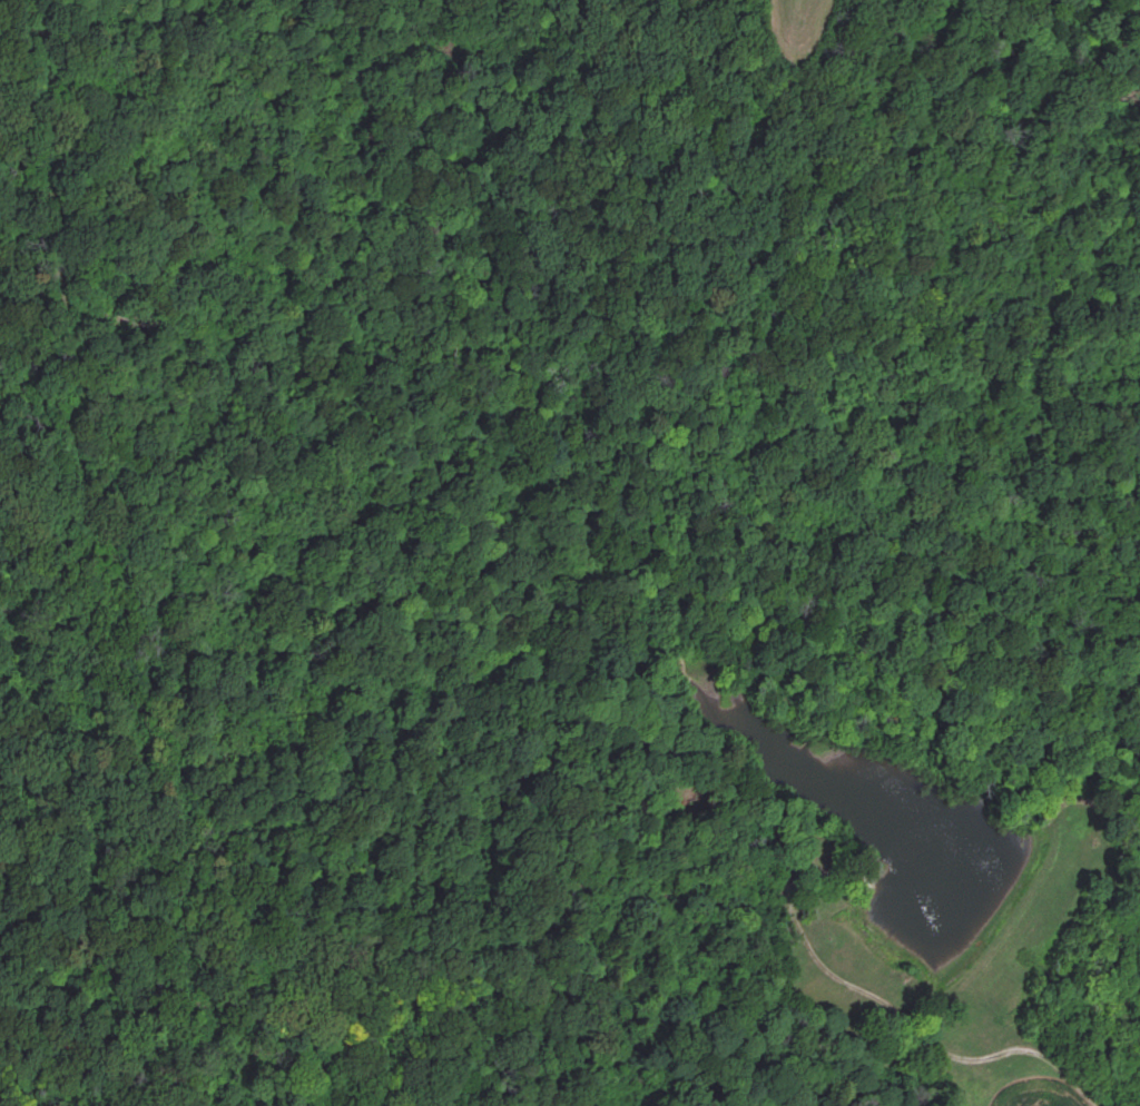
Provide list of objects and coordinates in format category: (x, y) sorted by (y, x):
road: (923, 1037)

